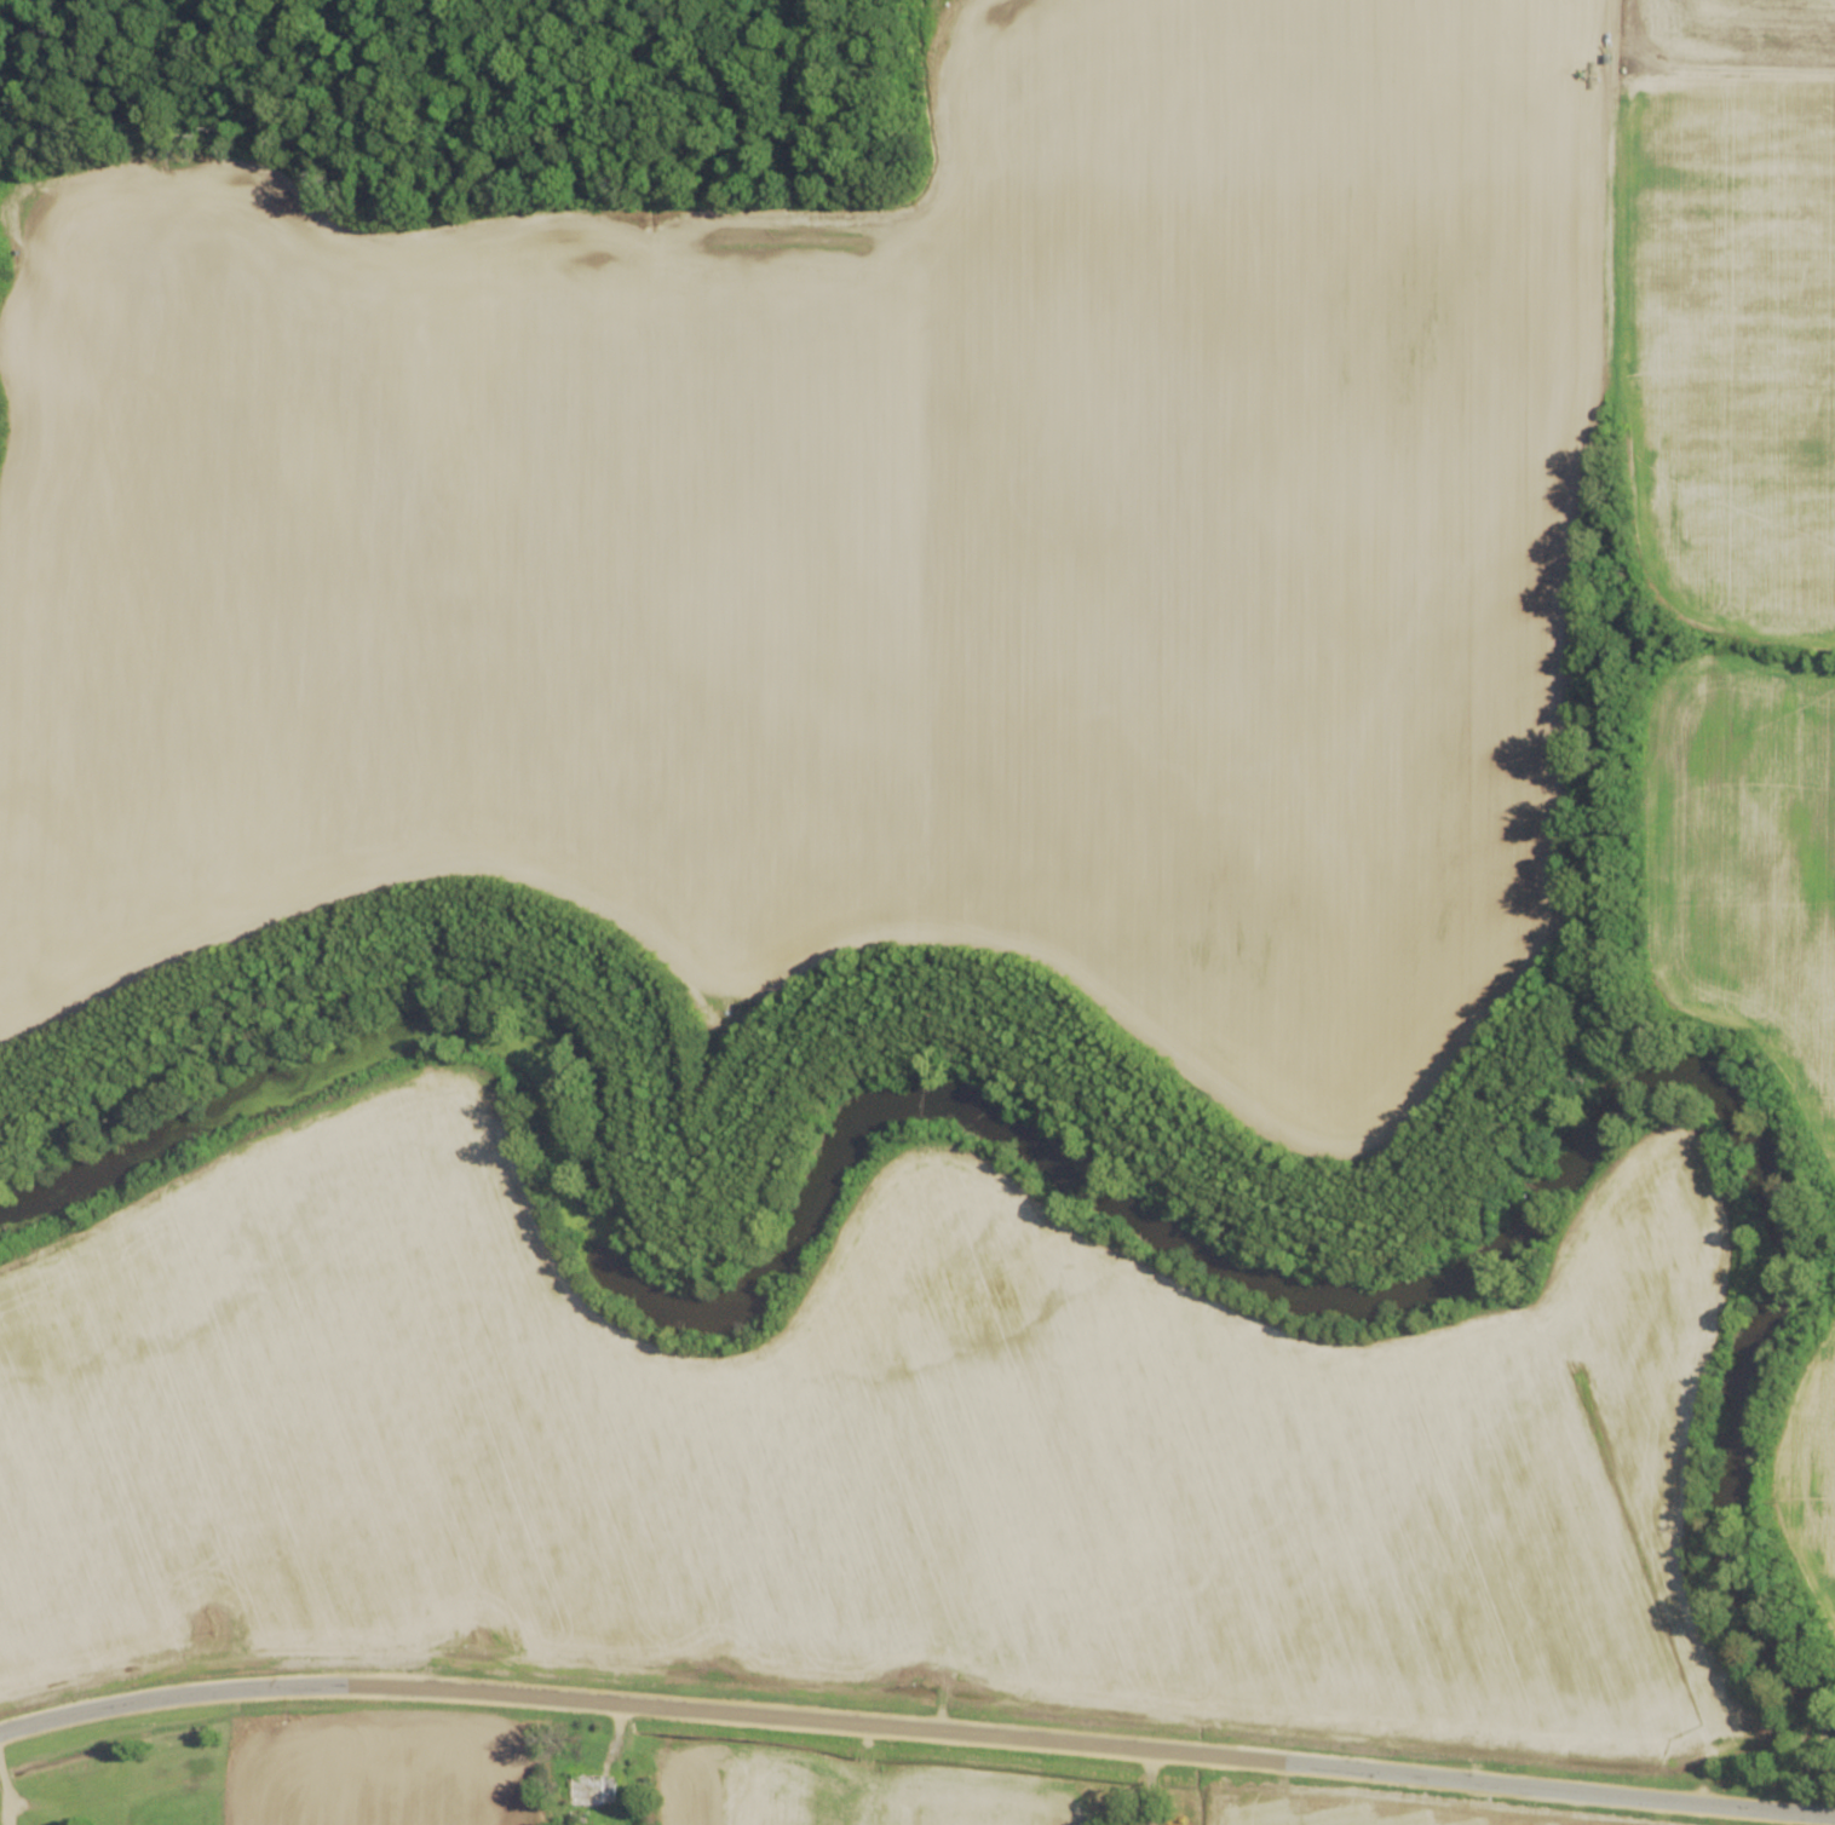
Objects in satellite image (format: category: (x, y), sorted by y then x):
road: (1712, 64)
road: (915, 1733)
building: (587, 1790)
road: (2, 1809)

